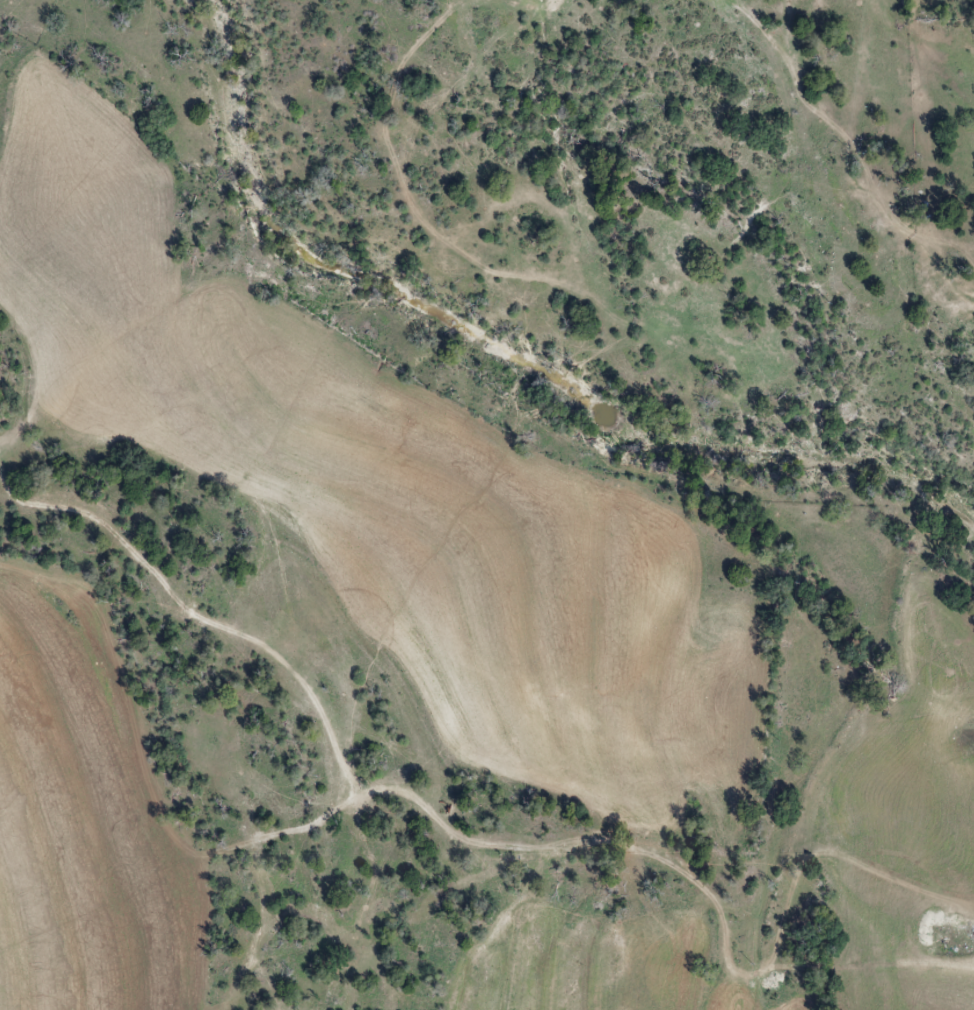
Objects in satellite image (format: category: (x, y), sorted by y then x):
railway: (879, 504)

